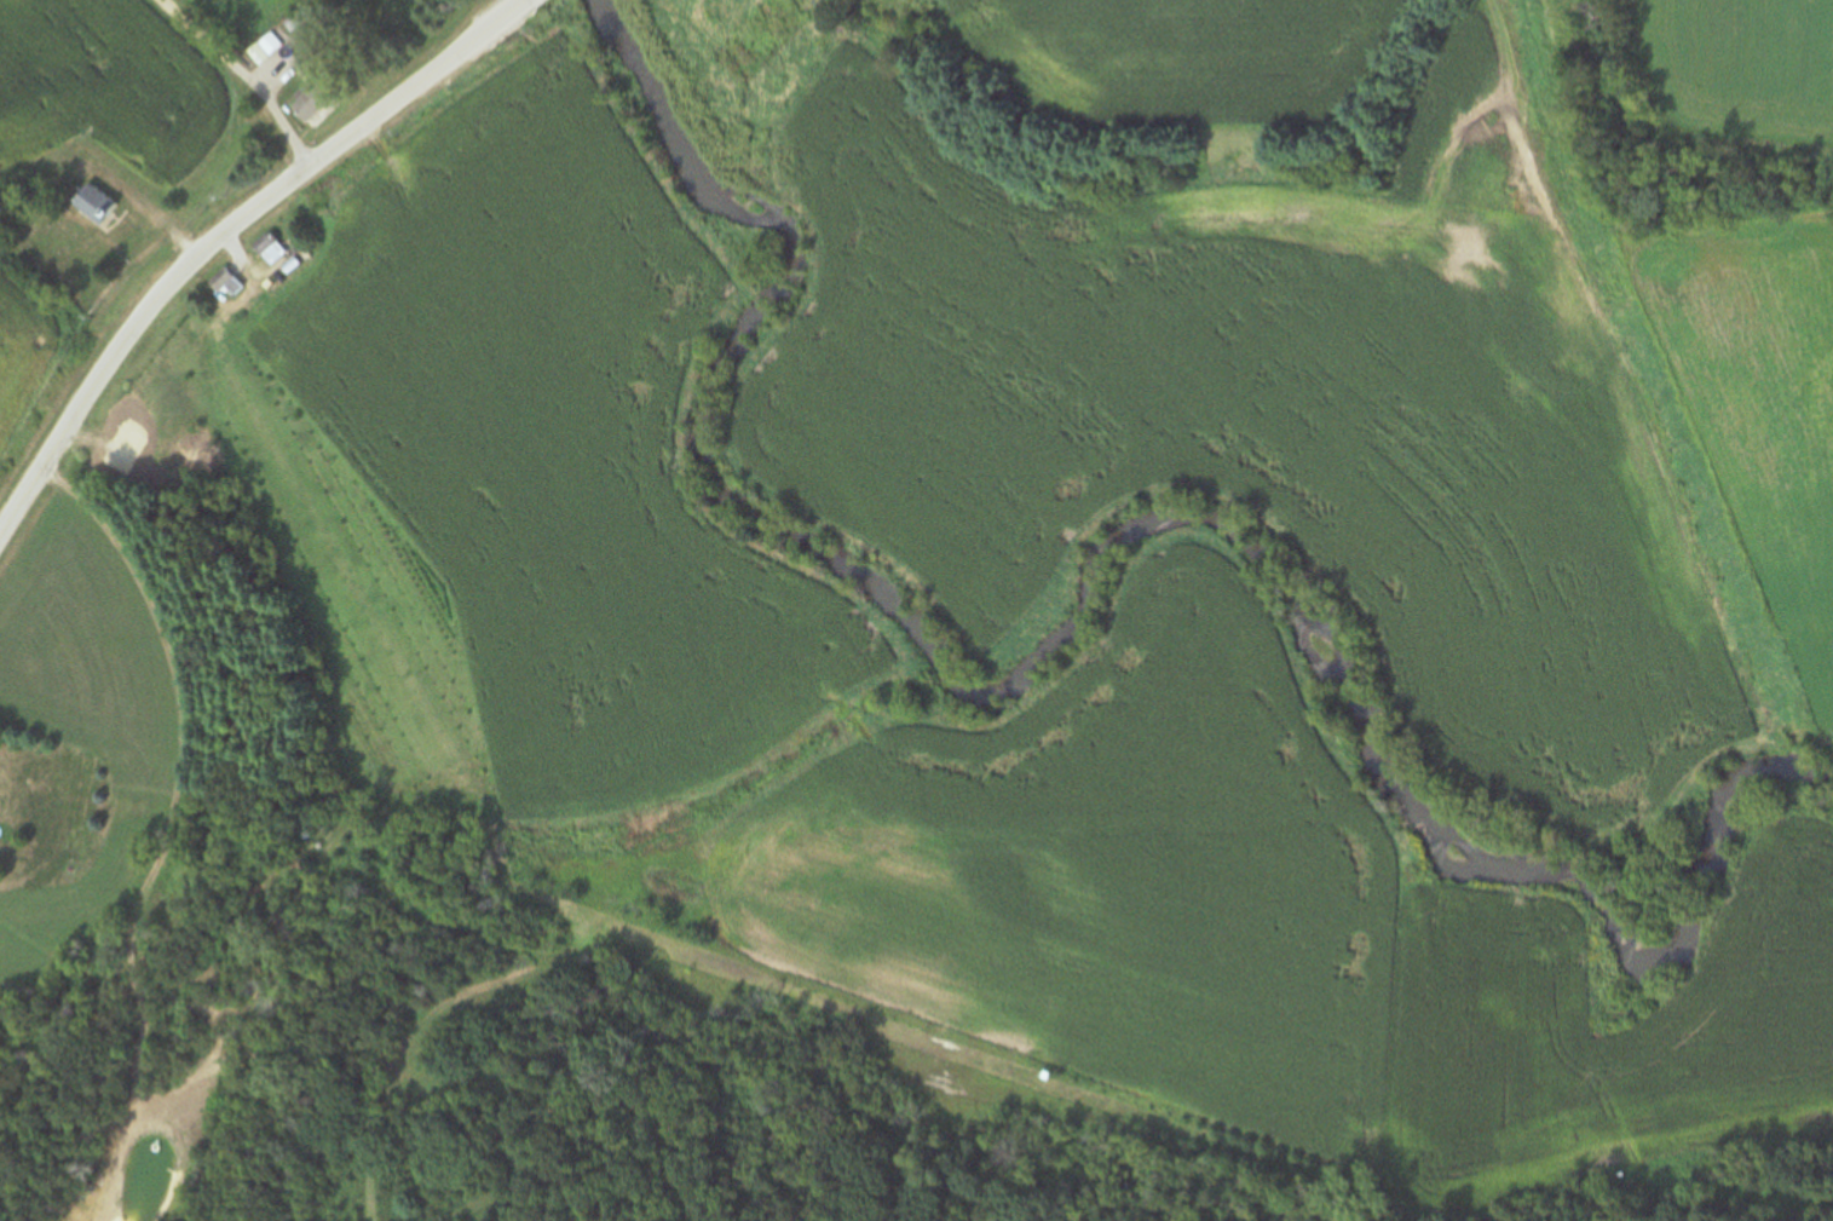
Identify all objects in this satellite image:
building: (266, 46)
road: (246, 76)
building: (311, 100)
building: (93, 203)
road: (221, 236)
building: (269, 249)
building: (225, 284)
river: (749, 286)
river: (1416, 758)
river: (1827, 794)

